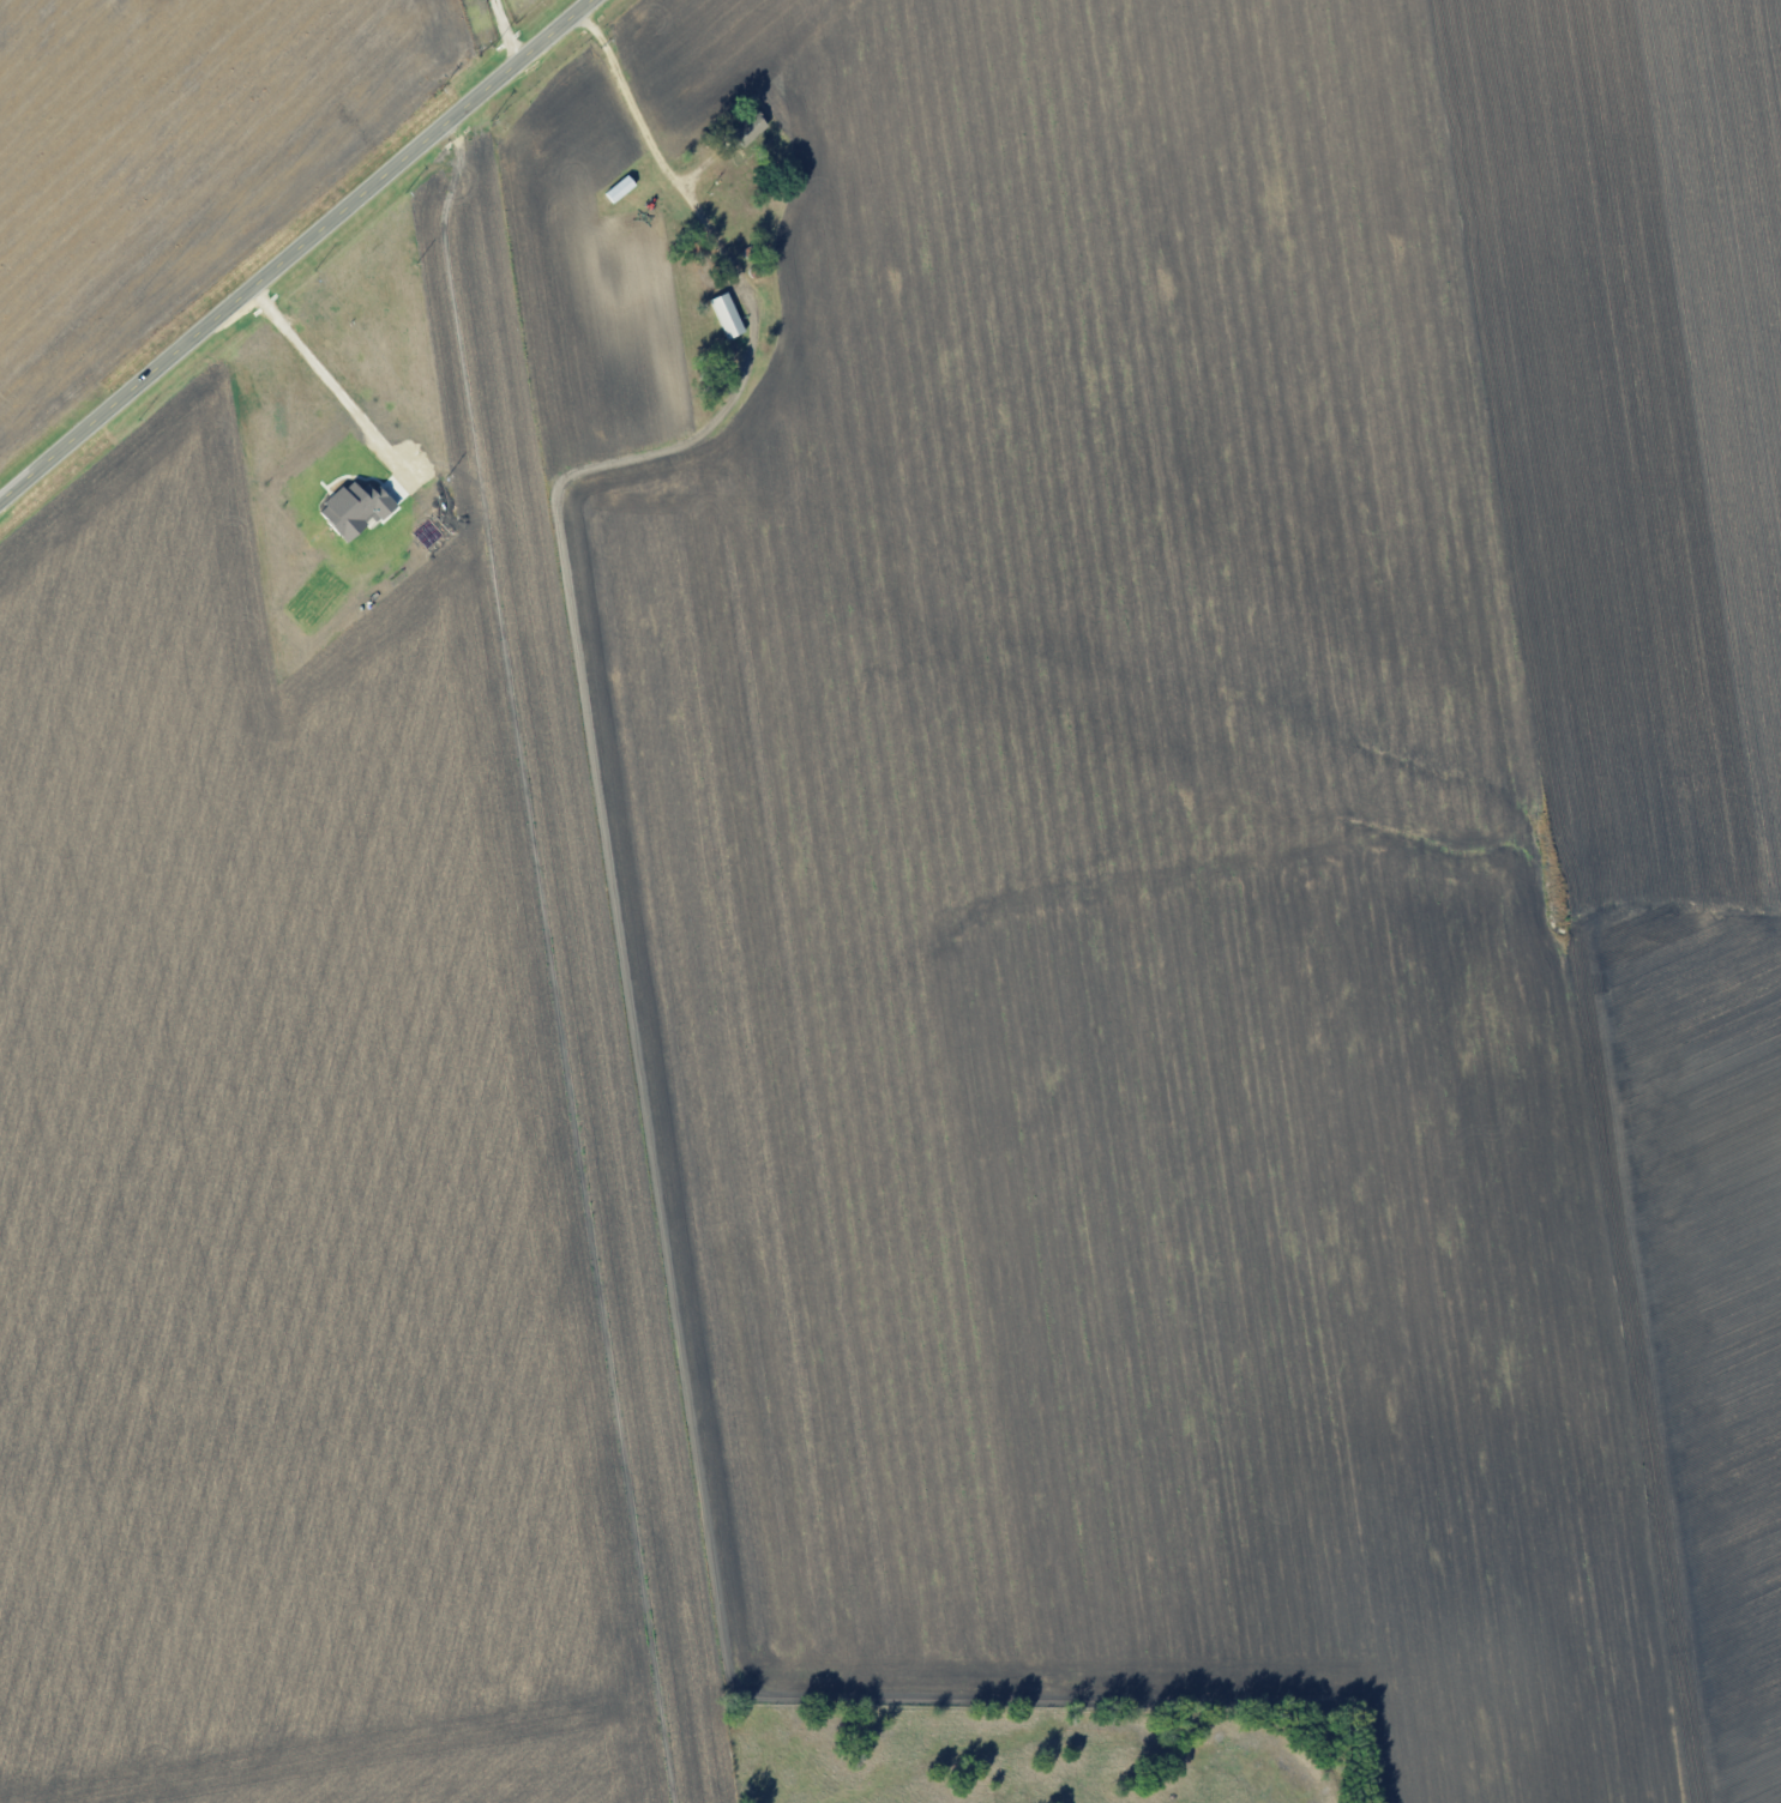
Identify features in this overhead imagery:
road: (500, 35)
building: (741, 131)
road: (661, 181)
road: (297, 251)
building: (722, 315)
road: (326, 380)
building: (359, 507)

